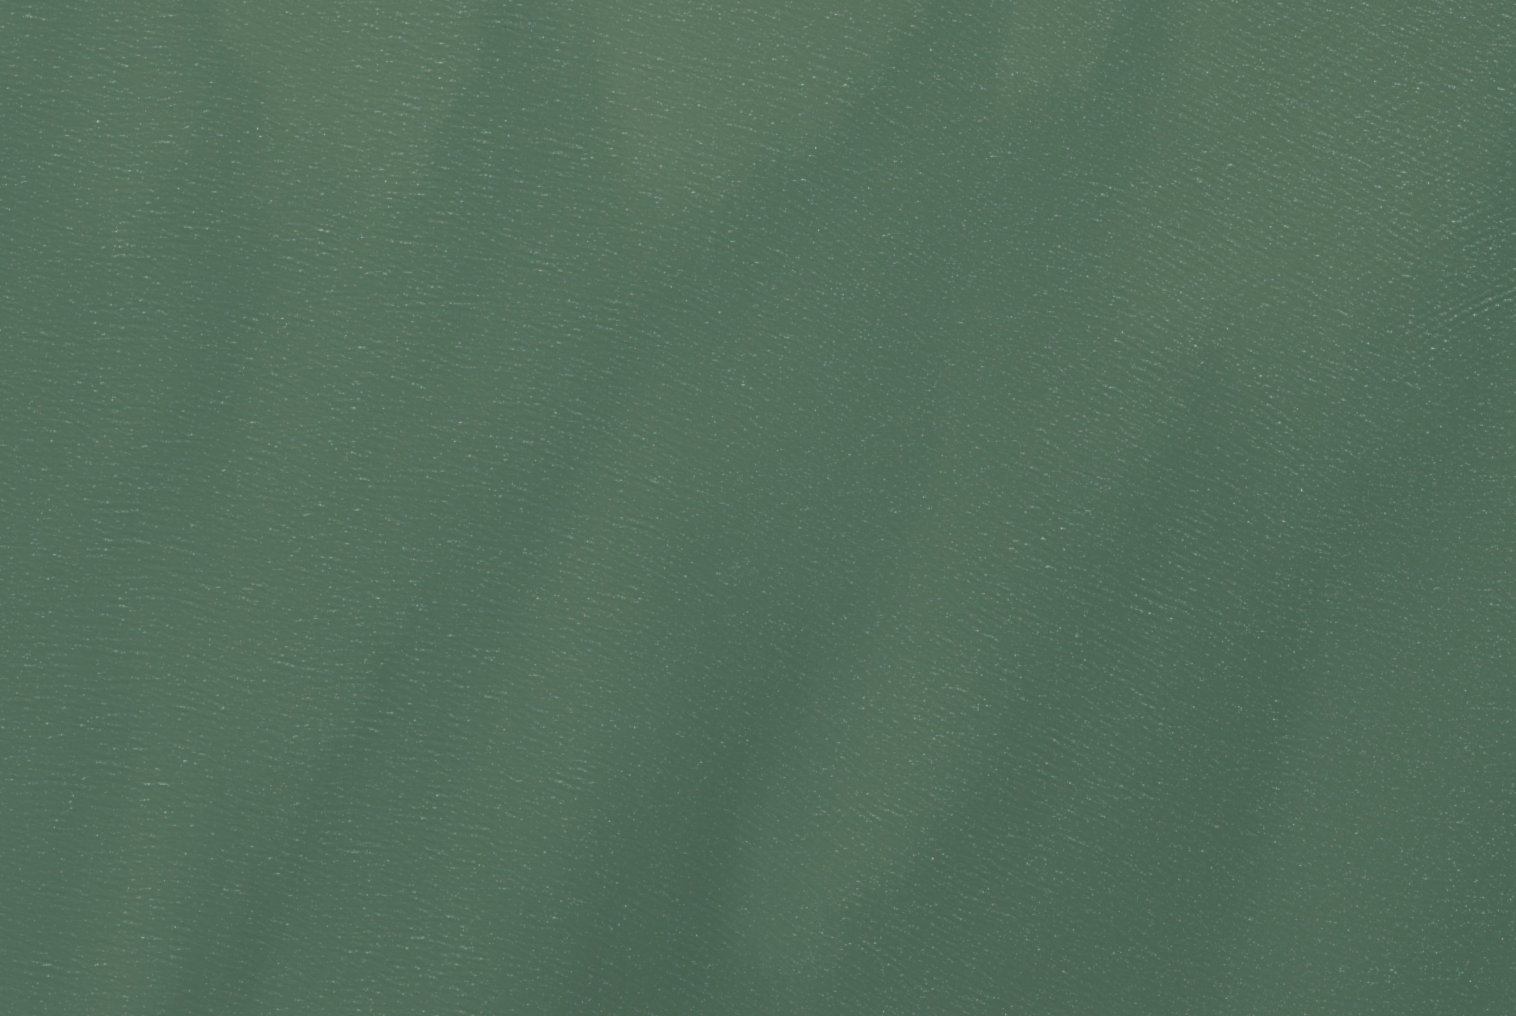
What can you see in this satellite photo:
building: (1384, 94)

